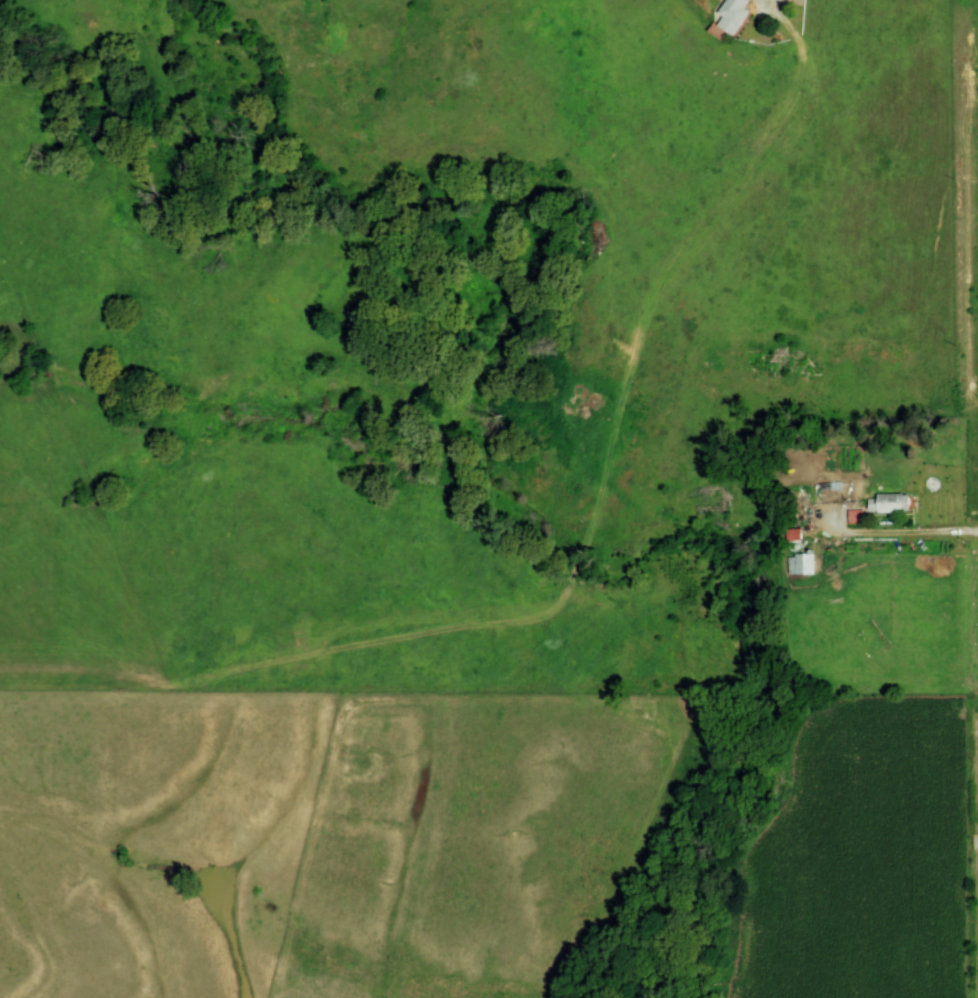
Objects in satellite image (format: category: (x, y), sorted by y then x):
road: (764, 3)
building: (733, 15)
building: (889, 504)
road: (904, 532)
building: (793, 535)
building: (804, 564)

